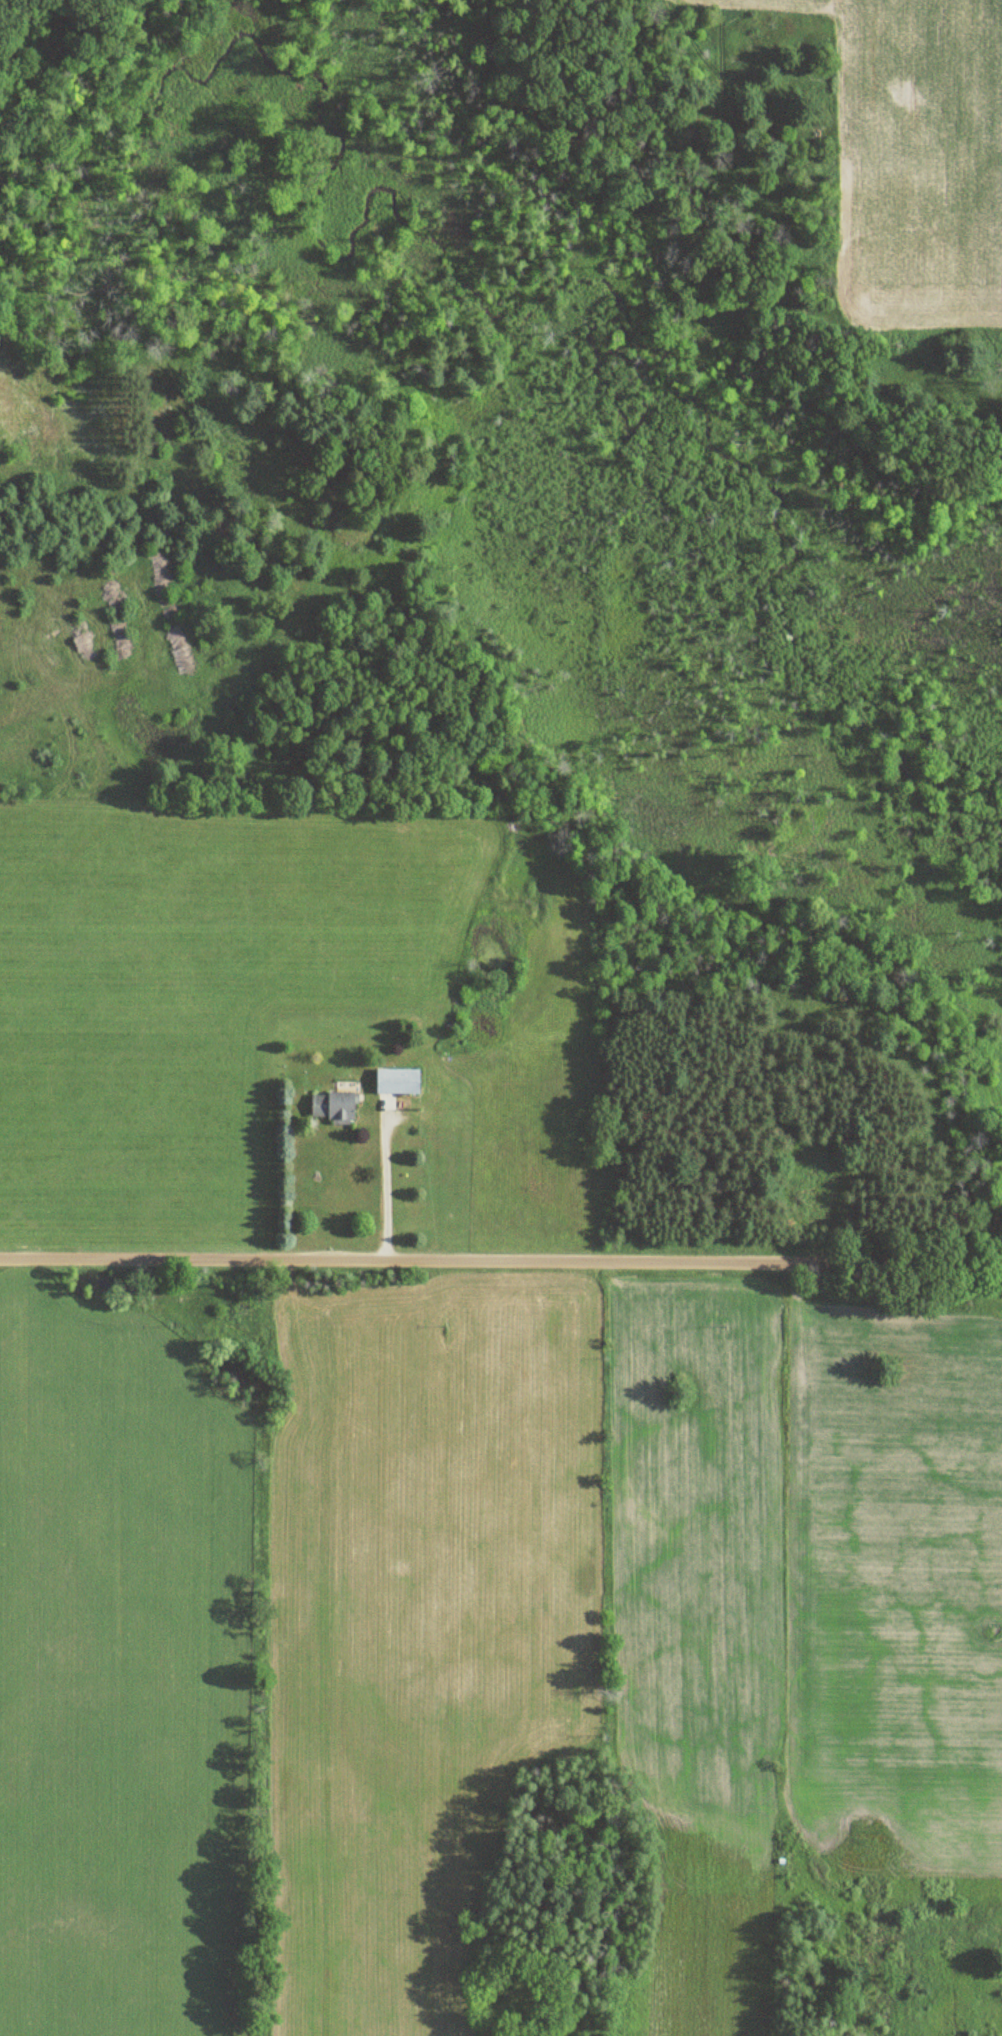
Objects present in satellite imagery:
building: (399, 1080)
building: (335, 1106)
road: (501, 1259)

